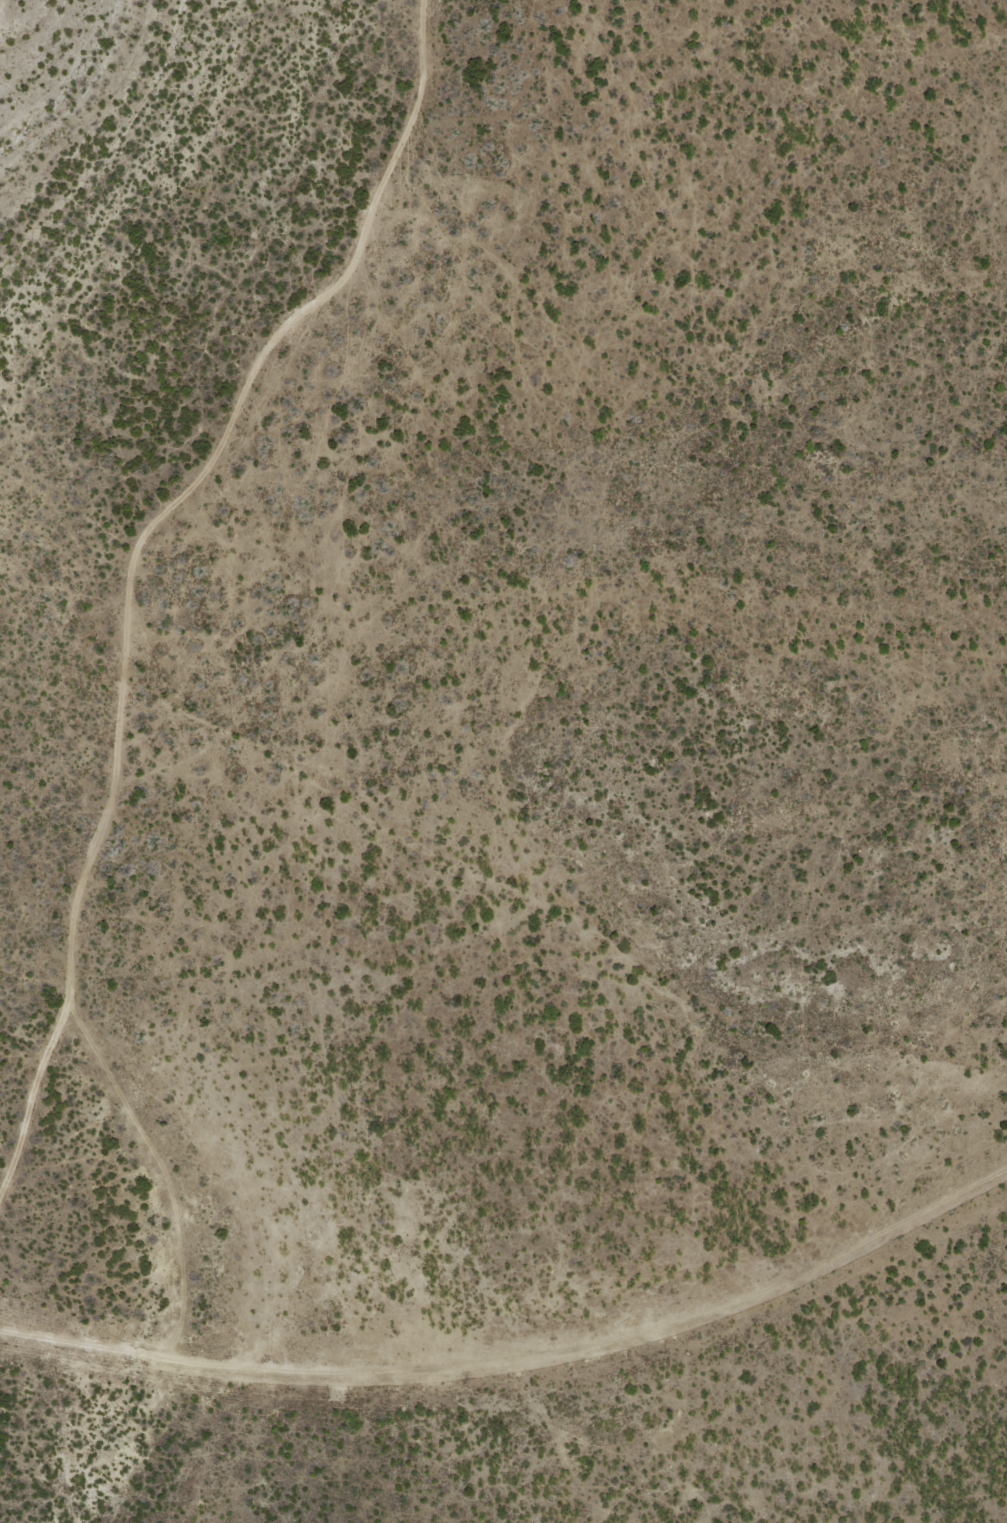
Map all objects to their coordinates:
road: (160, 598)
road: (55, 1433)

